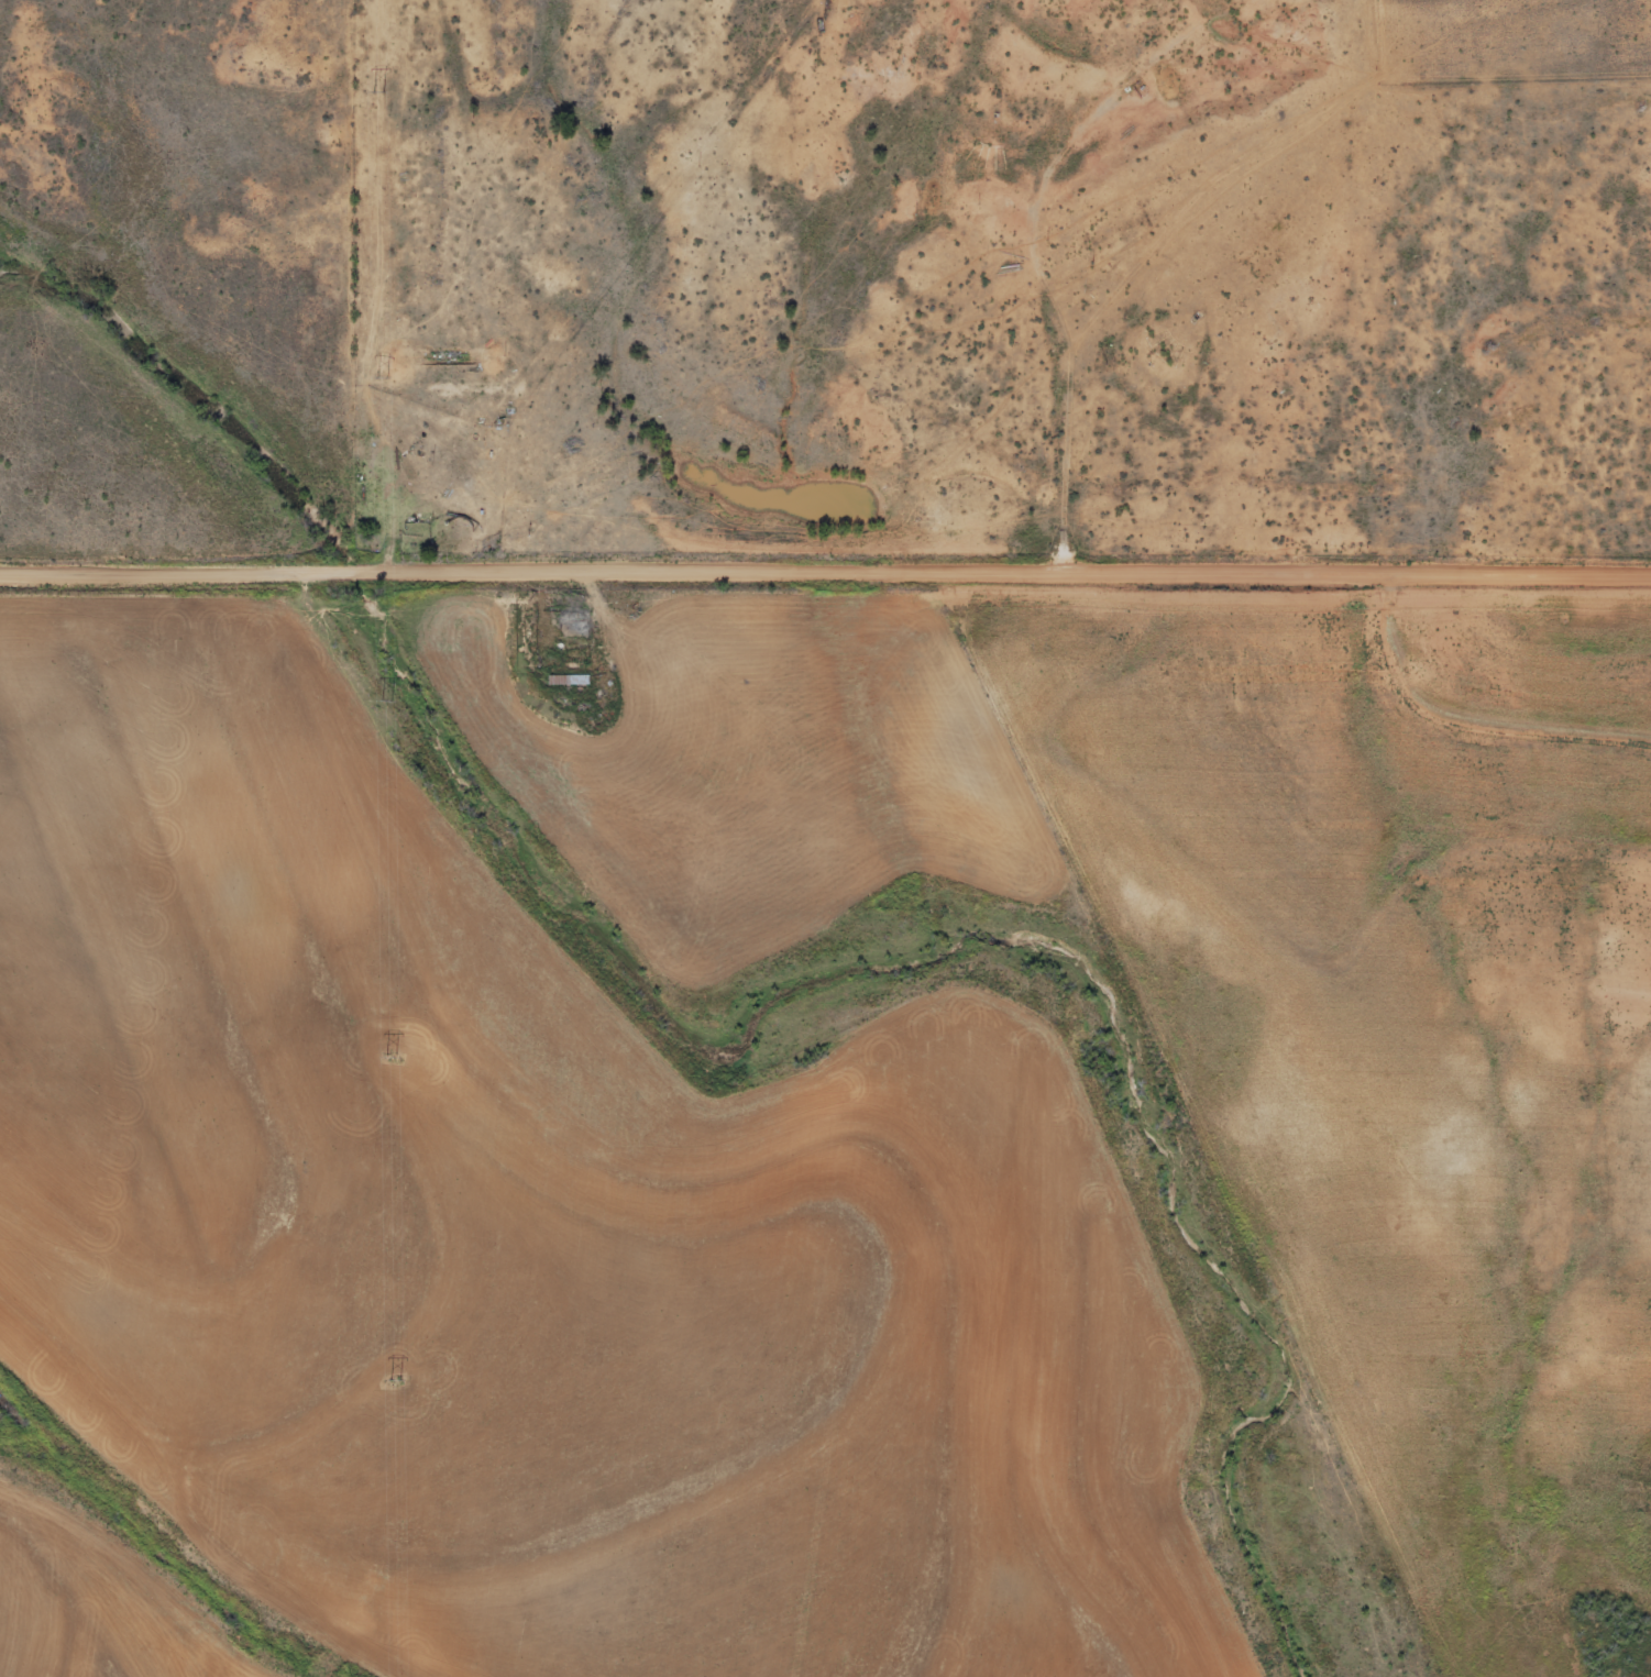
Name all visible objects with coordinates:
power tower: (378, 91)
power tower: (382, 376)
road: (825, 569)
building: (573, 625)
power tower: (386, 699)
road: (1470, 716)
power tower: (390, 1060)
power tower: (396, 1379)

